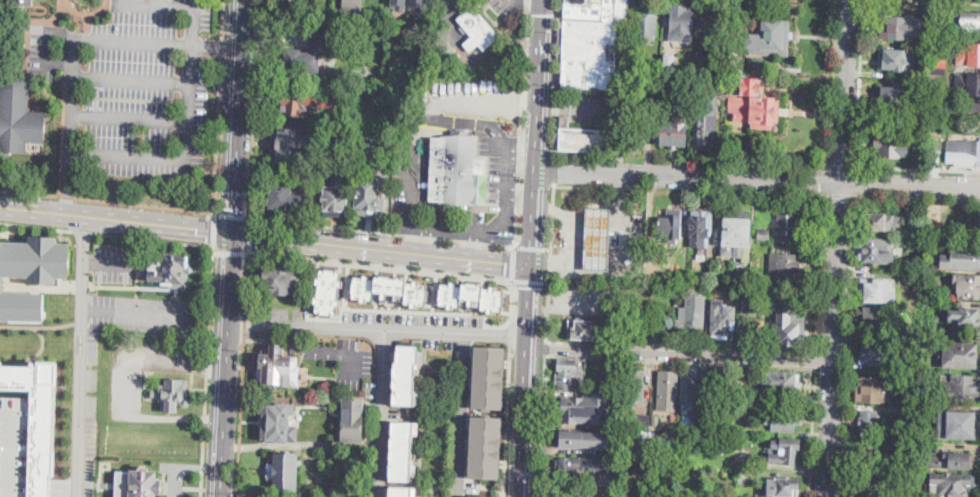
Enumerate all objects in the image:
road: (968, 0)
road: (146, 1)
road: (537, 1)
road: (543, 1)
building: (22, 2)
building: (333, 4)
building: (401, 4)
building: (716, 4)
building: (419, 5)
parking lot: (507, 5)
road: (195, 6)
building: (352, 7)
building: (743, 9)
building: (926, 12)
traffic signals: (543, 14)
building: (970, 20)
building: (647, 21)
building: (681, 23)
road: (542, 25)
building: (720, 27)
building: (896, 27)
building: (478, 30)
building: (772, 36)
building: (591, 42)
road: (44, 44)
road: (156, 44)
building: (939, 45)
building: (304, 55)
building: (968, 55)
road: (474, 57)
building: (896, 60)
building: (669, 63)
building: (939, 67)
road: (556, 77)
road: (859, 82)
road: (153, 83)
building: (685, 83)
building: (967, 83)
parking lot: (140, 84)
building: (751, 85)
road: (843, 89)
parking lot: (468, 93)
building: (937, 93)
road: (485, 95)
building: (892, 96)
building: (298, 101)
road: (219, 106)
road: (549, 106)
parking lot: (590, 106)
road: (253, 108)
road: (586, 108)
road: (538, 109)
building: (758, 110)
building: (971, 111)
road: (236, 115)
building: (19, 118)
road: (149, 119)
building: (351, 119)
road: (452, 119)
building: (564, 119)
building: (705, 120)
building: (331, 122)
building: (937, 122)
road: (520, 123)
road: (71, 127)
building: (671, 133)
building: (584, 139)
building: (290, 144)
building: (891, 144)
road: (520, 148)
parking lot: (491, 151)
building: (967, 153)
road: (148, 155)
road: (589, 156)
road: (918, 166)
road: (504, 167)
road: (554, 169)
building: (456, 171)
road: (688, 174)
road: (535, 180)
road: (855, 180)
road: (910, 183)
parking lot: (408, 185)
road: (408, 189)
road: (688, 189)
road: (519, 191)
road: (838, 194)
building: (337, 195)
building: (285, 197)
building: (369, 198)
road: (917, 198)
road: (504, 199)
road: (534, 200)
road: (107, 202)
road: (433, 207)
traffic signals: (234, 210)
road: (232, 215)
parking lot: (456, 216)
road: (117, 218)
building: (879, 221)
park: (951, 221)
road: (492, 224)
building: (671, 224)
building: (787, 224)
road: (35, 225)
road: (449, 226)
road: (214, 228)
building: (699, 228)
traffic signals: (209, 229)
road: (83, 230)
road: (381, 231)
building: (765, 233)
road: (248, 234)
road: (574, 234)
traffic signals: (256, 235)
road: (532, 235)
road: (423, 238)
building: (737, 238)
road: (154, 239)
building: (599, 239)
gas station: (599, 239)
road: (627, 240)
road: (471, 243)
road: (352, 244)
road: (230, 247)
road: (532, 247)
building: (876, 251)
building: (965, 258)
road: (500, 260)
traffic signals: (505, 261)
road: (109, 262)
parking lot: (114, 262)
road: (511, 262)
road: (550, 262)
building: (783, 268)
road: (837, 268)
road: (419, 269)
building: (166, 271)
road: (819, 273)
building: (31, 274)
road: (137, 278)
building: (280, 278)
road: (529, 280)
road: (82, 286)
road: (118, 286)
traffic signals: (532, 286)
building: (967, 286)
road: (41, 287)
building: (390, 289)
building: (877, 290)
building: (329, 291)
building: (472, 296)
building: (754, 300)
building: (747, 302)
parking lot: (144, 313)
road: (133, 314)
building: (874, 317)
building: (965, 318)
building: (720, 320)
building: (692, 321)
road: (81, 322)
road: (37, 326)
parking lot: (414, 326)
road: (379, 328)
building: (787, 328)
building: (588, 329)
road: (510, 333)
parking lot: (93, 343)
road: (681, 346)
road: (848, 346)
road: (42, 348)
road: (545, 348)
road: (681, 352)
building: (876, 353)
road: (81, 355)
building: (960, 355)
road: (815, 359)
parking lot: (346, 360)
road: (680, 361)
road: (226, 364)
building: (277, 367)
road: (207, 371)
building: (572, 373)
road: (242, 374)
building: (405, 374)
building: (489, 377)
parking lot: (128, 378)
parking lot: (92, 379)
road: (529, 380)
building: (598, 382)
building: (782, 385)
road: (122, 386)
building: (668, 386)
building: (961, 386)
building: (636, 387)
building: (871, 389)
building: (688, 391)
building: (709, 391)
building: (728, 393)
building: (172, 394)
building: (579, 411)
road: (382, 413)
road: (464, 414)
building: (913, 415)
building: (654, 418)
building: (37, 419)
building: (354, 419)
building: (784, 419)
road: (507, 420)
building: (643, 421)
building: (279, 422)
building: (867, 422)
building: (958, 423)
road: (541, 426)
building: (701, 426)
road: (830, 428)
building: (725, 429)
road: (812, 432)
building: (692, 433)
building: (578, 439)
building: (15, 442)
parking garage: (15, 442)
building: (669, 445)
building: (900, 445)
parking lot: (89, 446)
building: (486, 447)
building: (627, 447)
building: (401, 450)
building: (785, 451)
building: (867, 456)
building: (950, 460)
road: (185, 467)
building: (587, 467)
building: (284, 471)
building: (907, 478)
building: (874, 482)
building: (140, 484)
building: (951, 485)
road: (64, 486)
building: (782, 487)
building: (402, 491)
building: (573, 495)
building: (478, 496)

